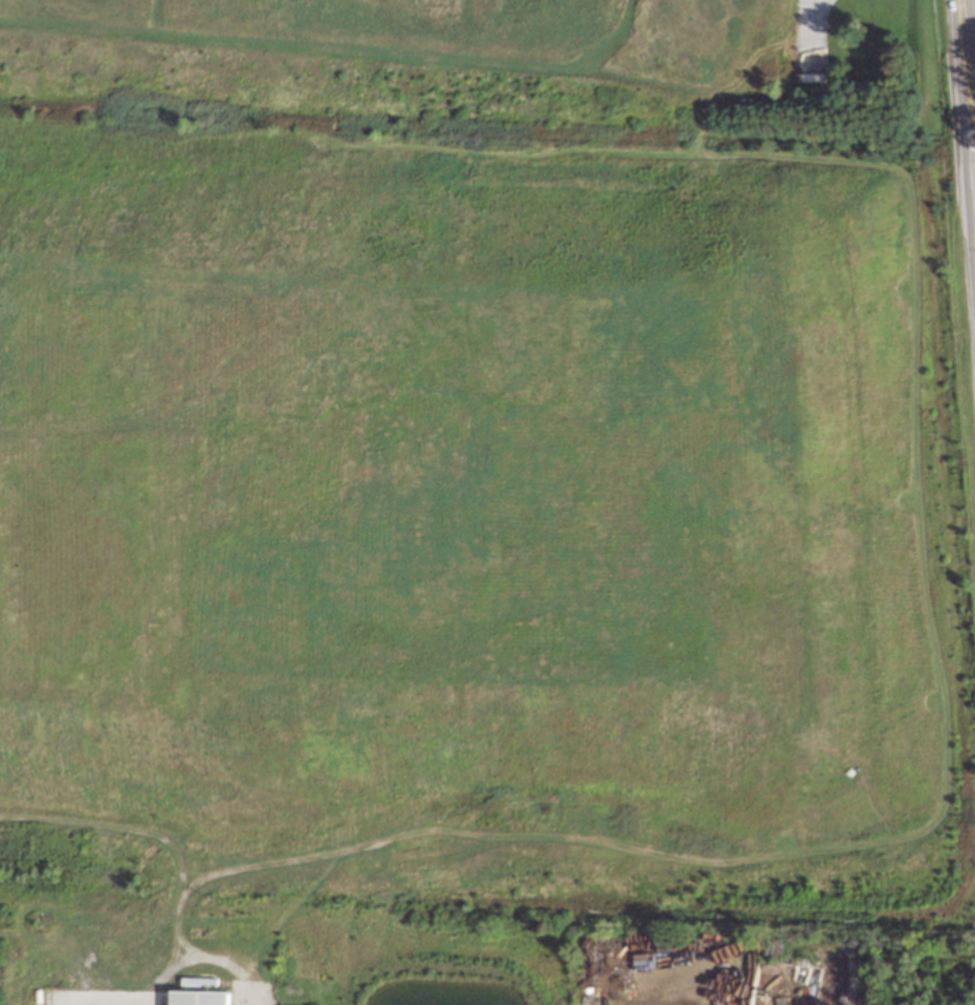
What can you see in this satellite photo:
road: (968, 82)
building: (207, 998)

